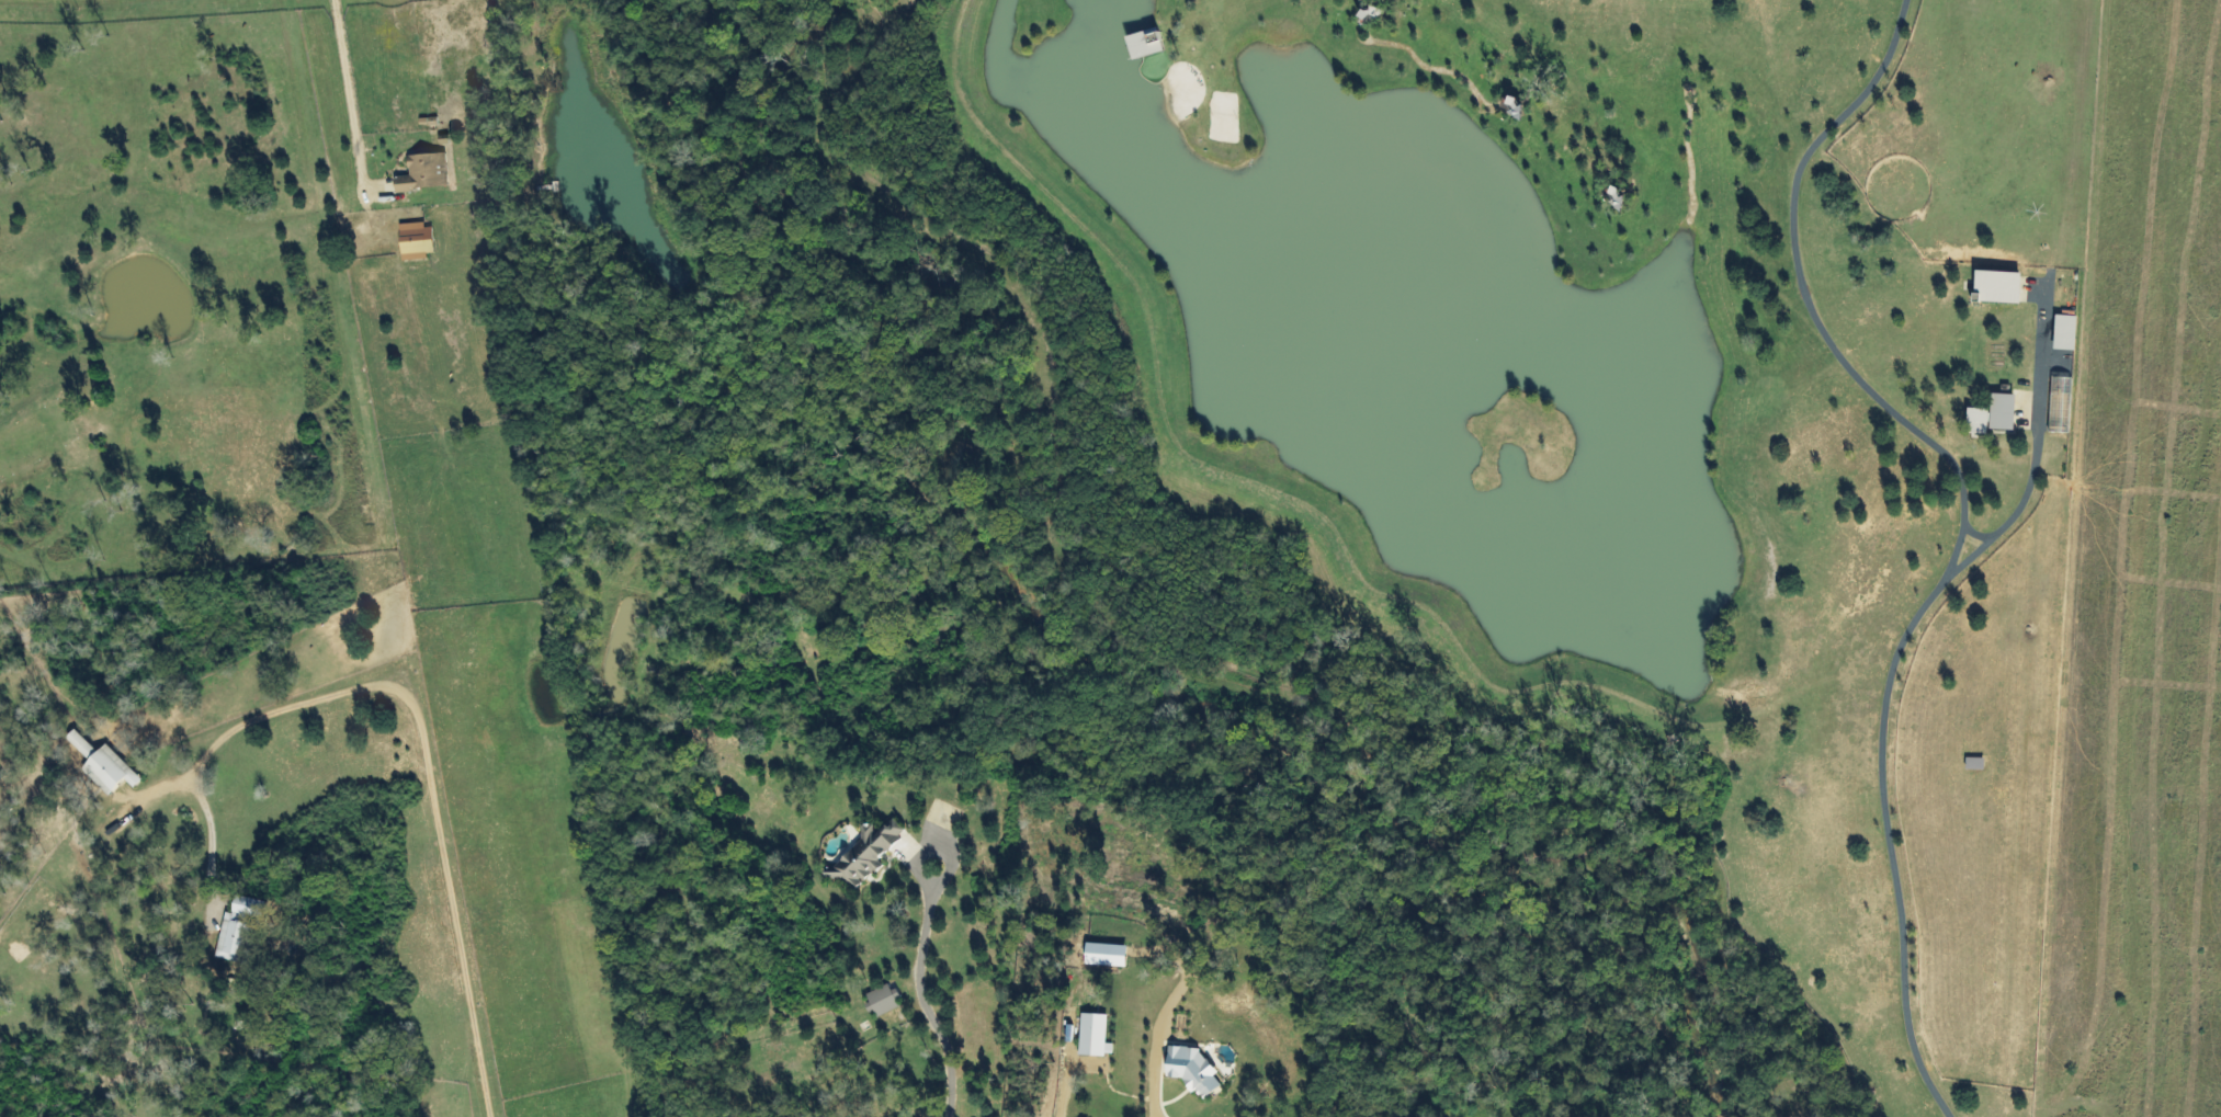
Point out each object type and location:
building: (1154, 43)
building: (431, 172)
building: (423, 240)
building: (1996, 286)
road: (1811, 301)
building: (2064, 332)
building: (1991, 415)
road: (1976, 535)
road: (1892, 686)
road: (429, 753)
building: (111, 767)
building: (864, 856)
building: (243, 928)
building: (1106, 956)
road: (922, 989)
building: (884, 1002)
building: (1095, 1038)
building: (1191, 1071)
road: (1156, 1103)

